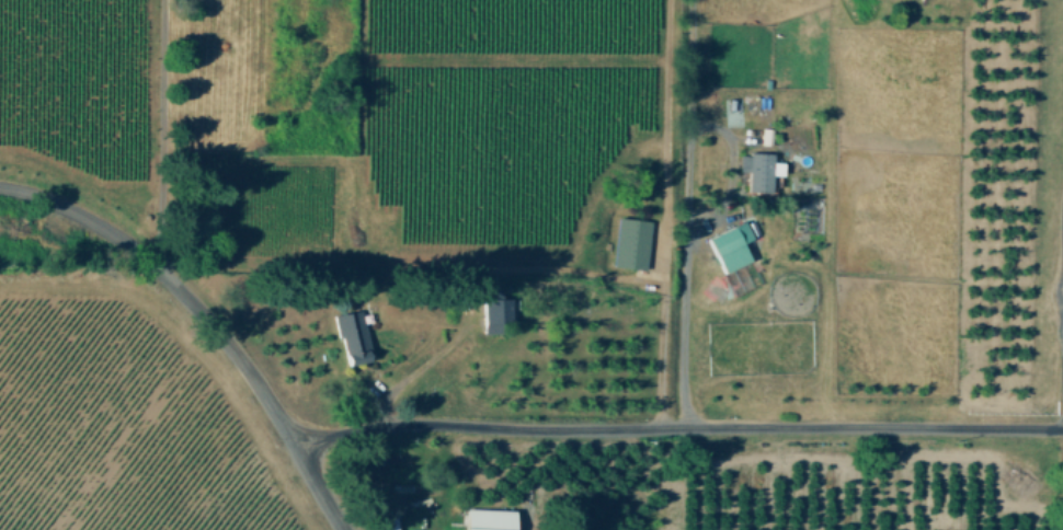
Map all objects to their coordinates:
road: (156, 132)
road: (732, 172)
building: (755, 172)
road: (690, 214)
building: (630, 245)
building: (728, 247)
building: (494, 311)
road: (1053, 315)
road: (212, 318)
building: (351, 338)
road: (683, 427)
building: (488, 520)

